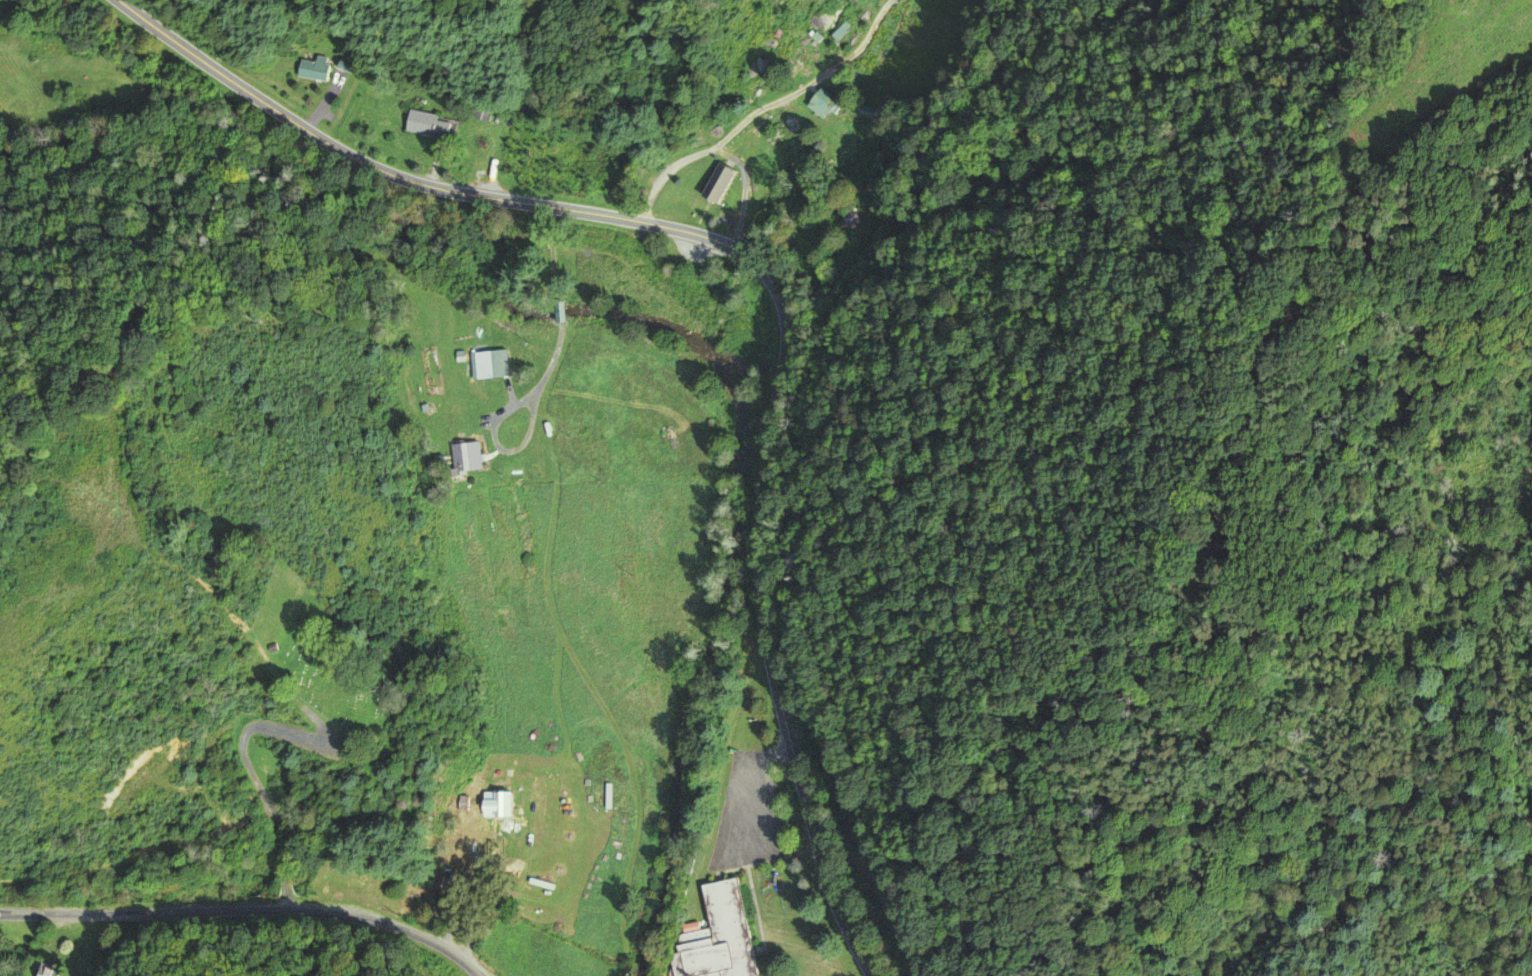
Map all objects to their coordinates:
road: (758, 108)
road: (746, 191)
road: (548, 253)
road: (767, 278)
road: (561, 313)
road: (554, 362)
road: (525, 439)
road: (254, 783)
road: (142, 915)
road: (387, 925)

